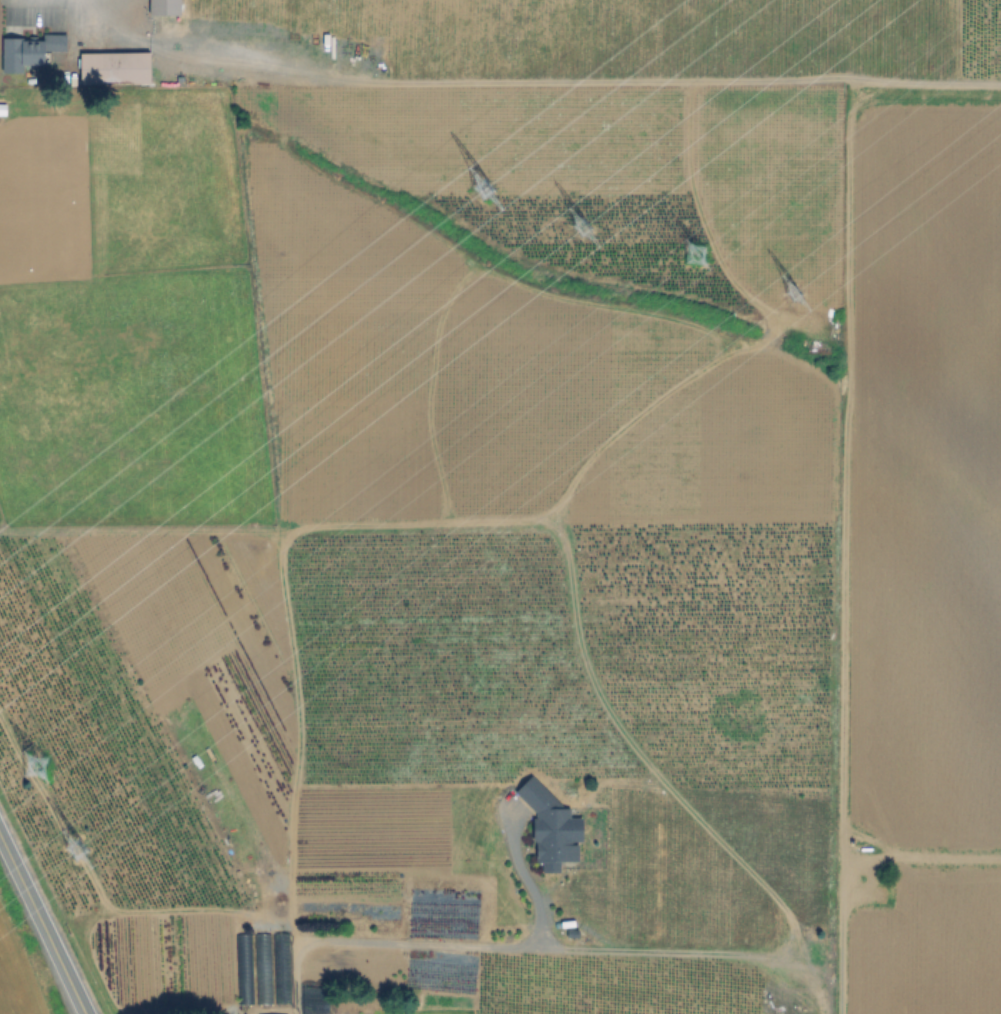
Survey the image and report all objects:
building: (167, 6)
road: (106, 26)
building: (22, 51)
building: (117, 68)
road: (569, 82)
building: (969, 98)
power tower: (476, 189)
power tower: (577, 224)
power tower: (694, 250)
power tower: (795, 290)
crop: (920, 559)
power tower: (39, 768)
building: (556, 821)
power tower: (75, 850)
road: (43, 925)
road: (445, 943)
building: (275, 1012)

